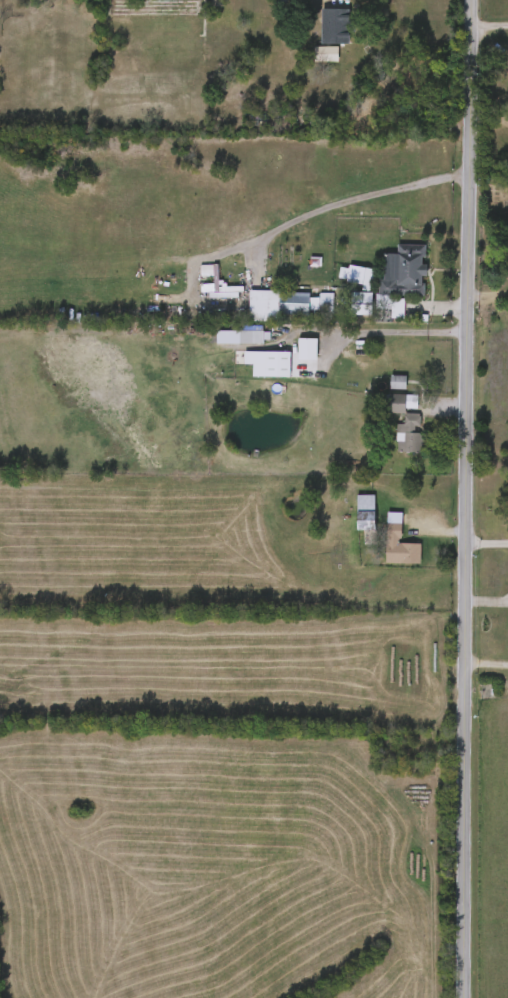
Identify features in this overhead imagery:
building: (334, 25)
road: (490, 26)
road: (351, 199)
building: (408, 274)
building: (365, 278)
building: (327, 304)
building: (361, 305)
road: (382, 330)
building: (253, 344)
building: (308, 350)
building: (279, 367)
building: (398, 382)
building: (397, 404)
building: (410, 434)
road: (468, 499)
building: (366, 512)
road: (488, 542)
building: (399, 543)
road: (487, 663)

